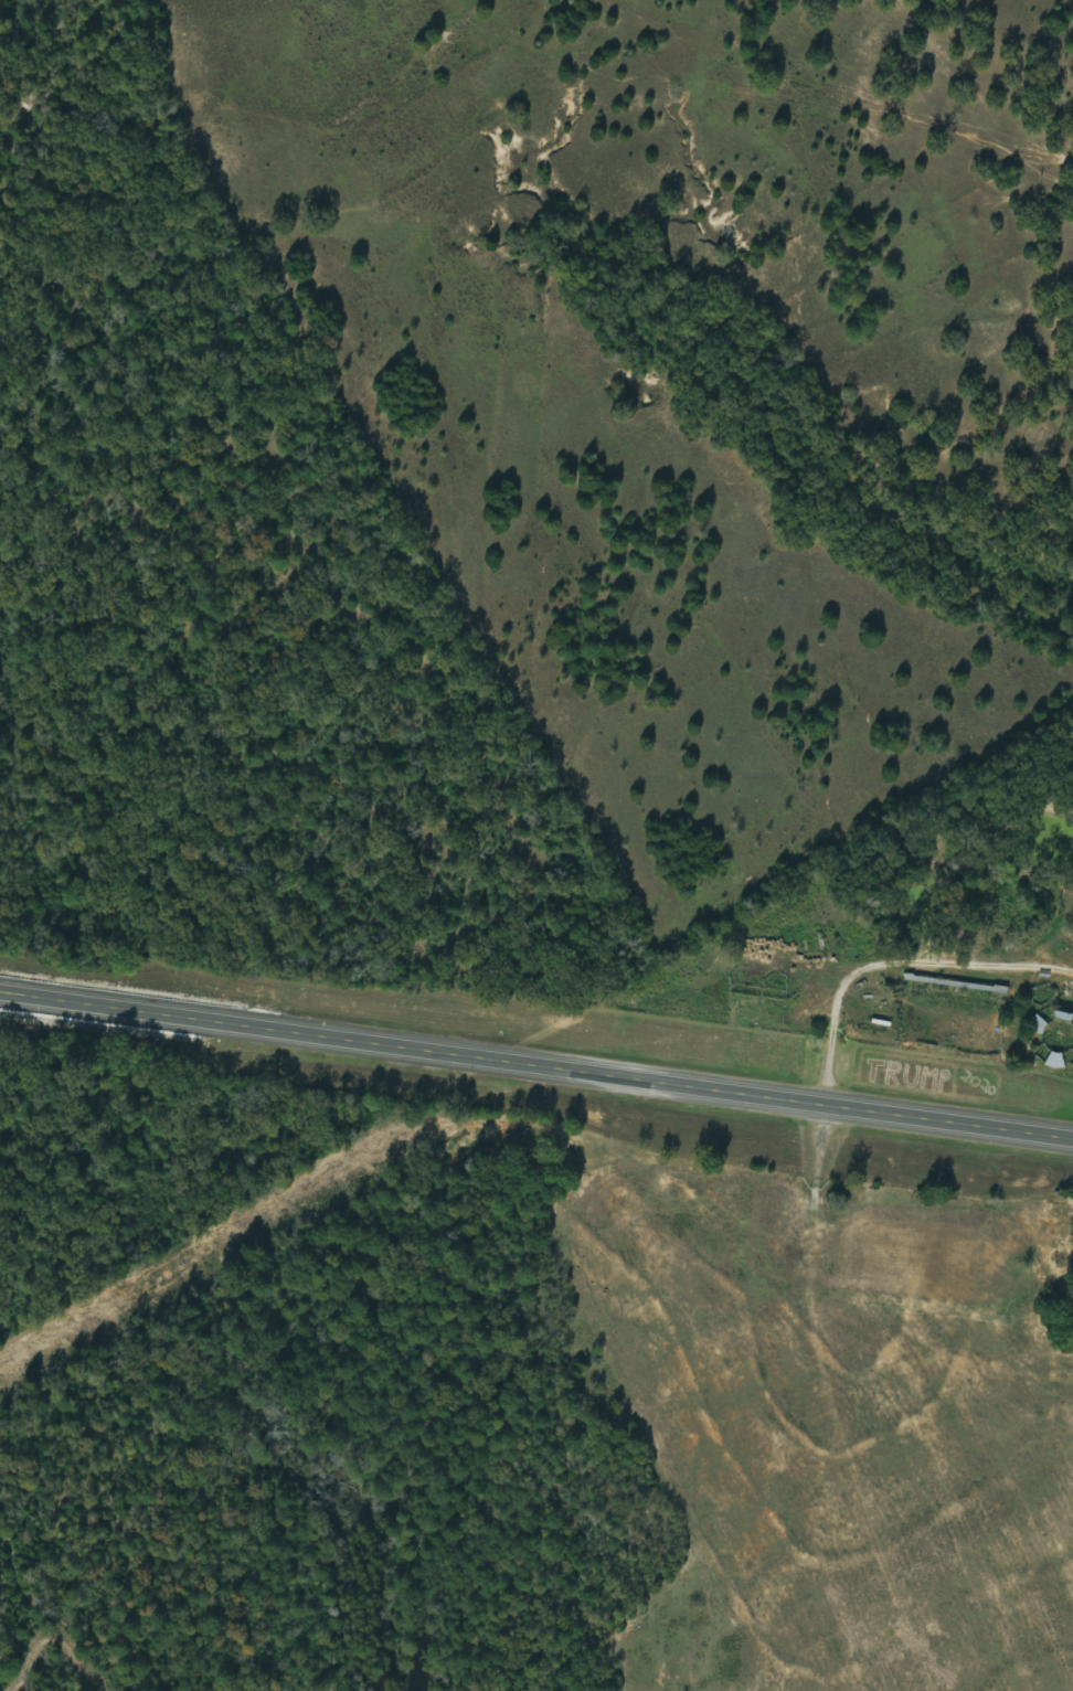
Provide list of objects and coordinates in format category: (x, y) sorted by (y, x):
building: (1040, 1025)
building: (1058, 1062)
road: (536, 1070)

